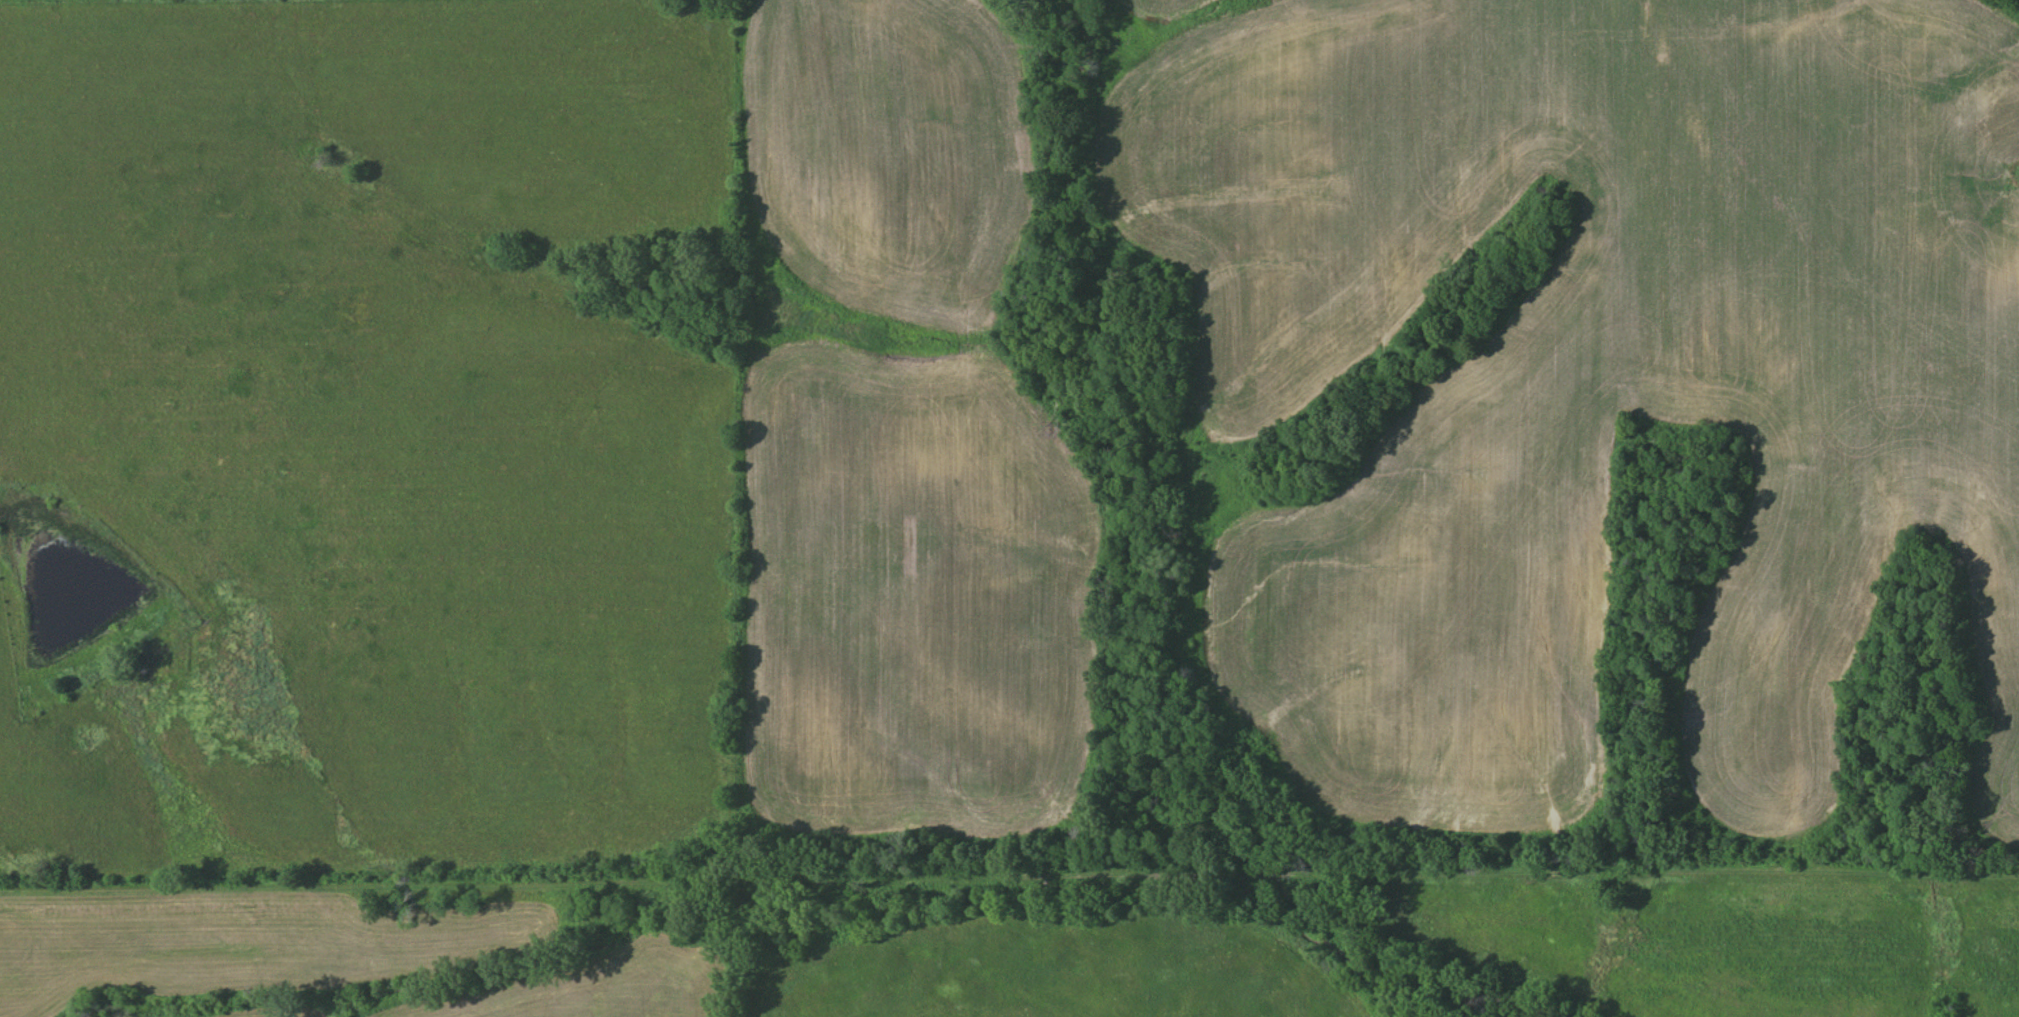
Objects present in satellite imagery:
road: (1009, 889)

